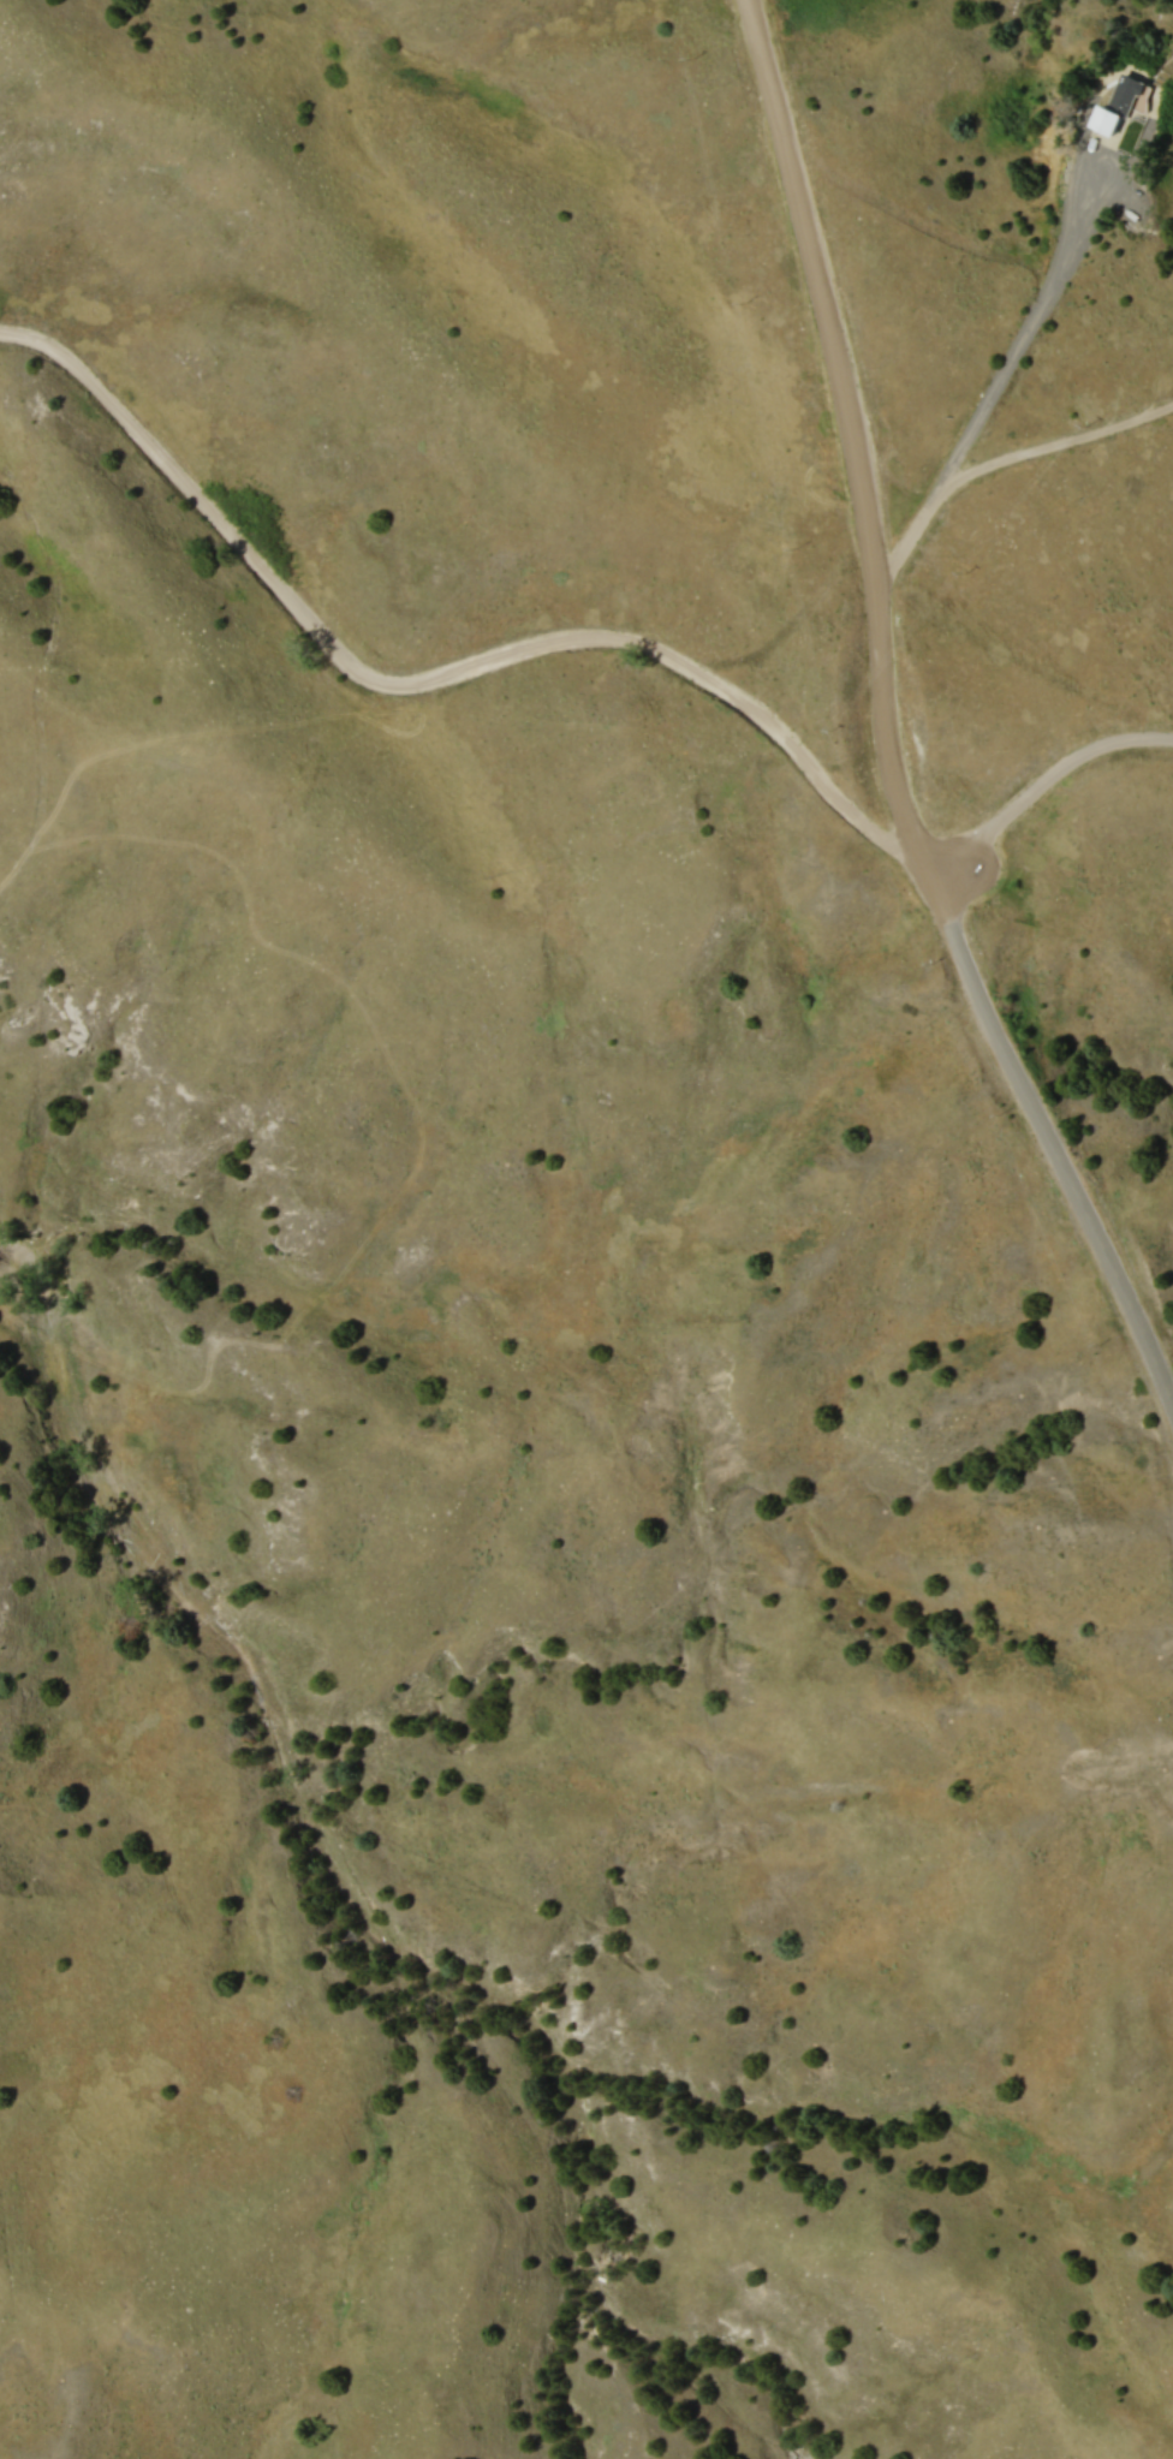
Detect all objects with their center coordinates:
building: (1124, 106)
road: (1032, 318)
road: (857, 431)
road: (1000, 460)
road: (434, 675)
road: (1040, 780)
road: (1050, 1136)

